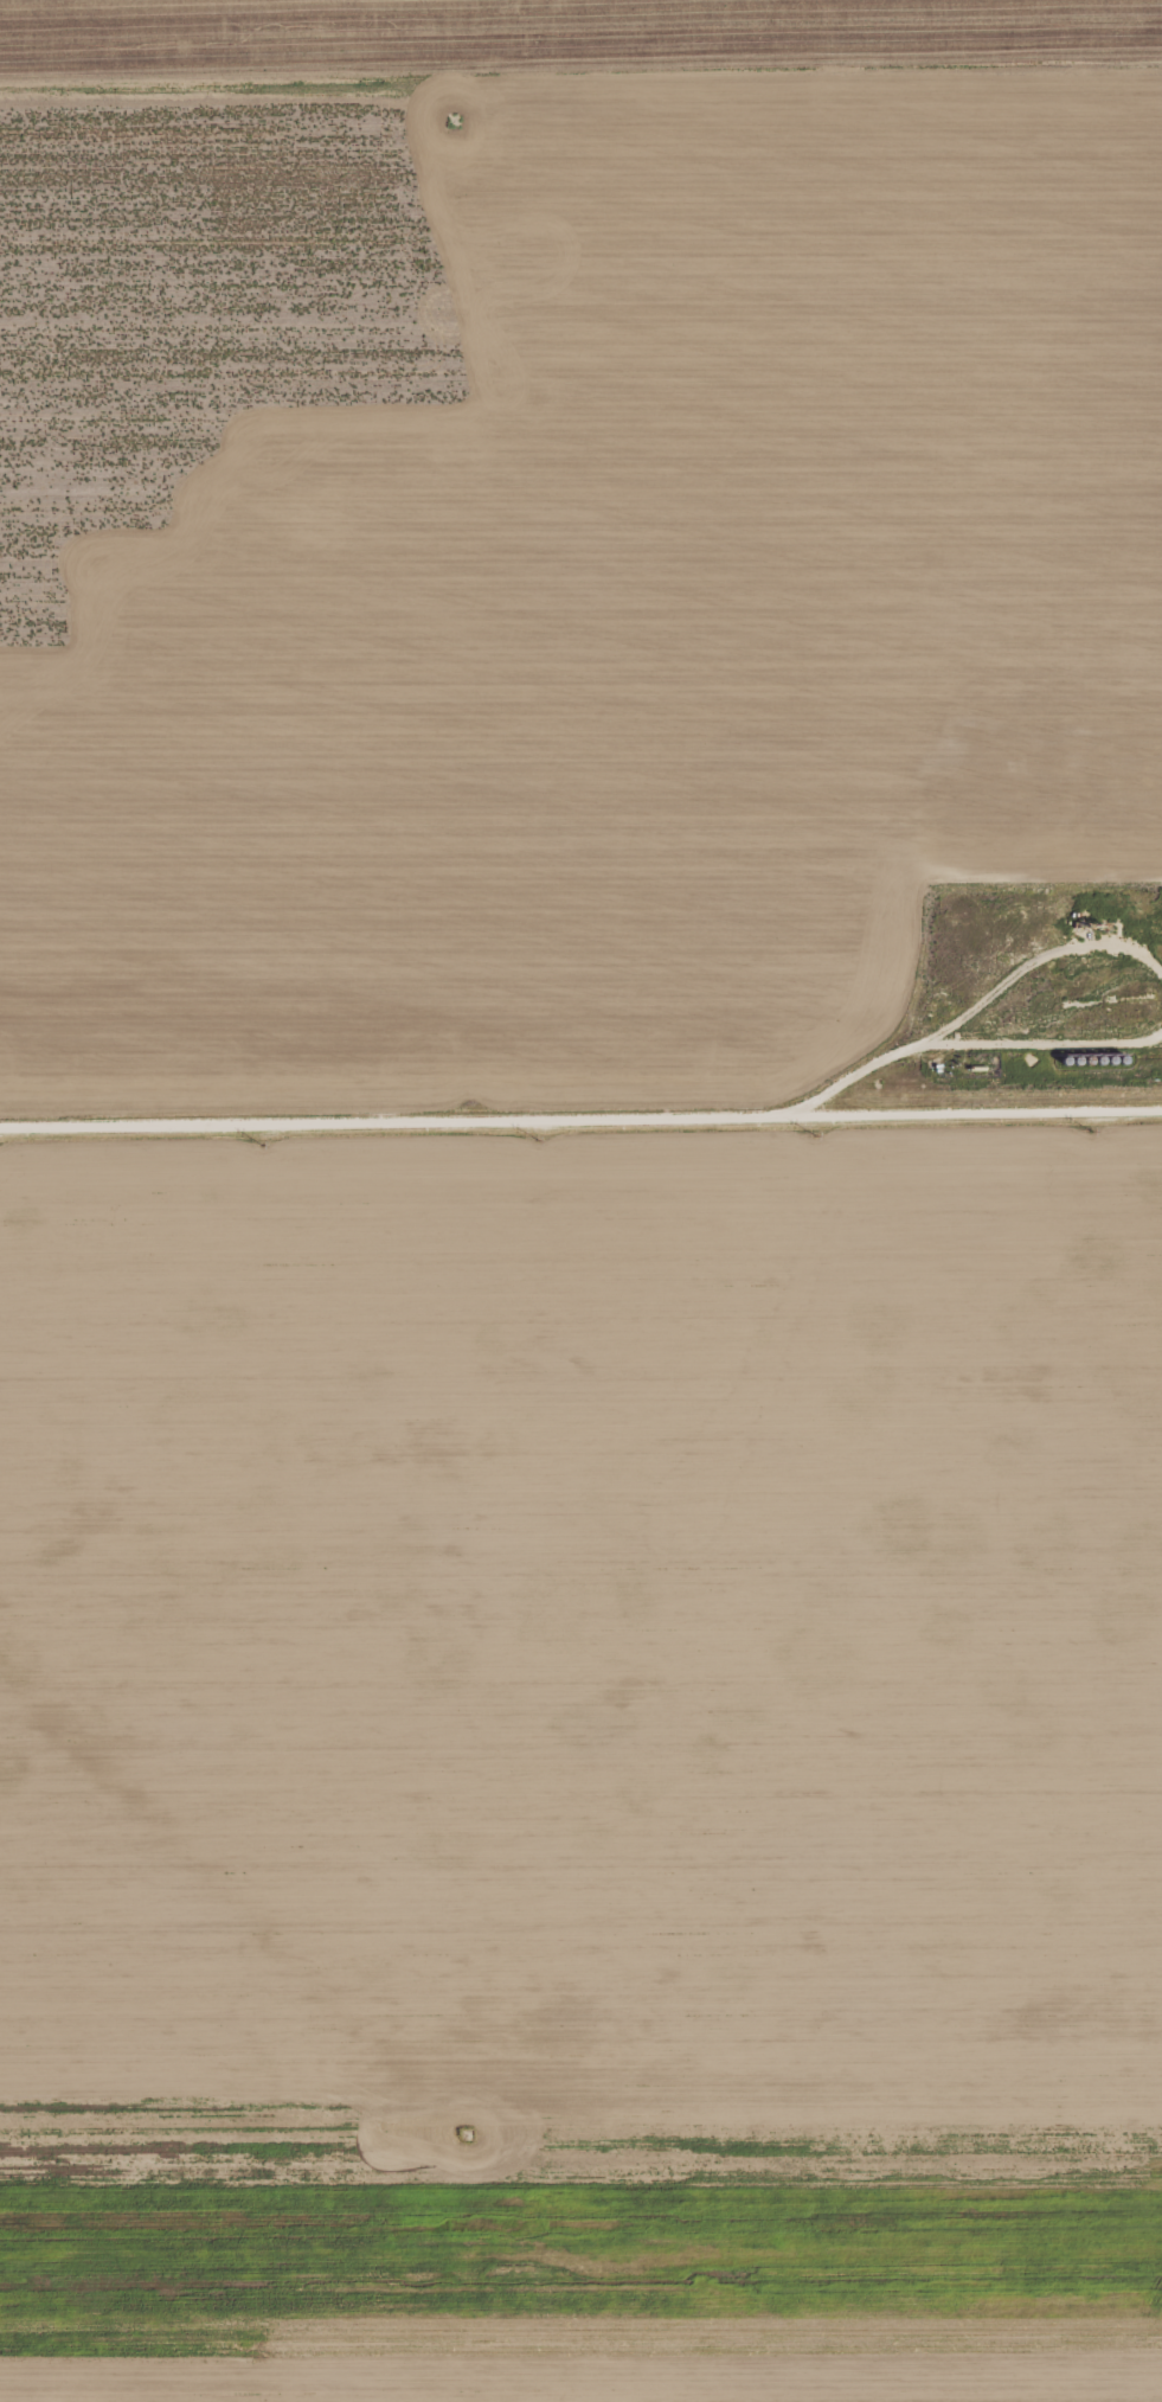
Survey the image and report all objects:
road: (580, 1115)

